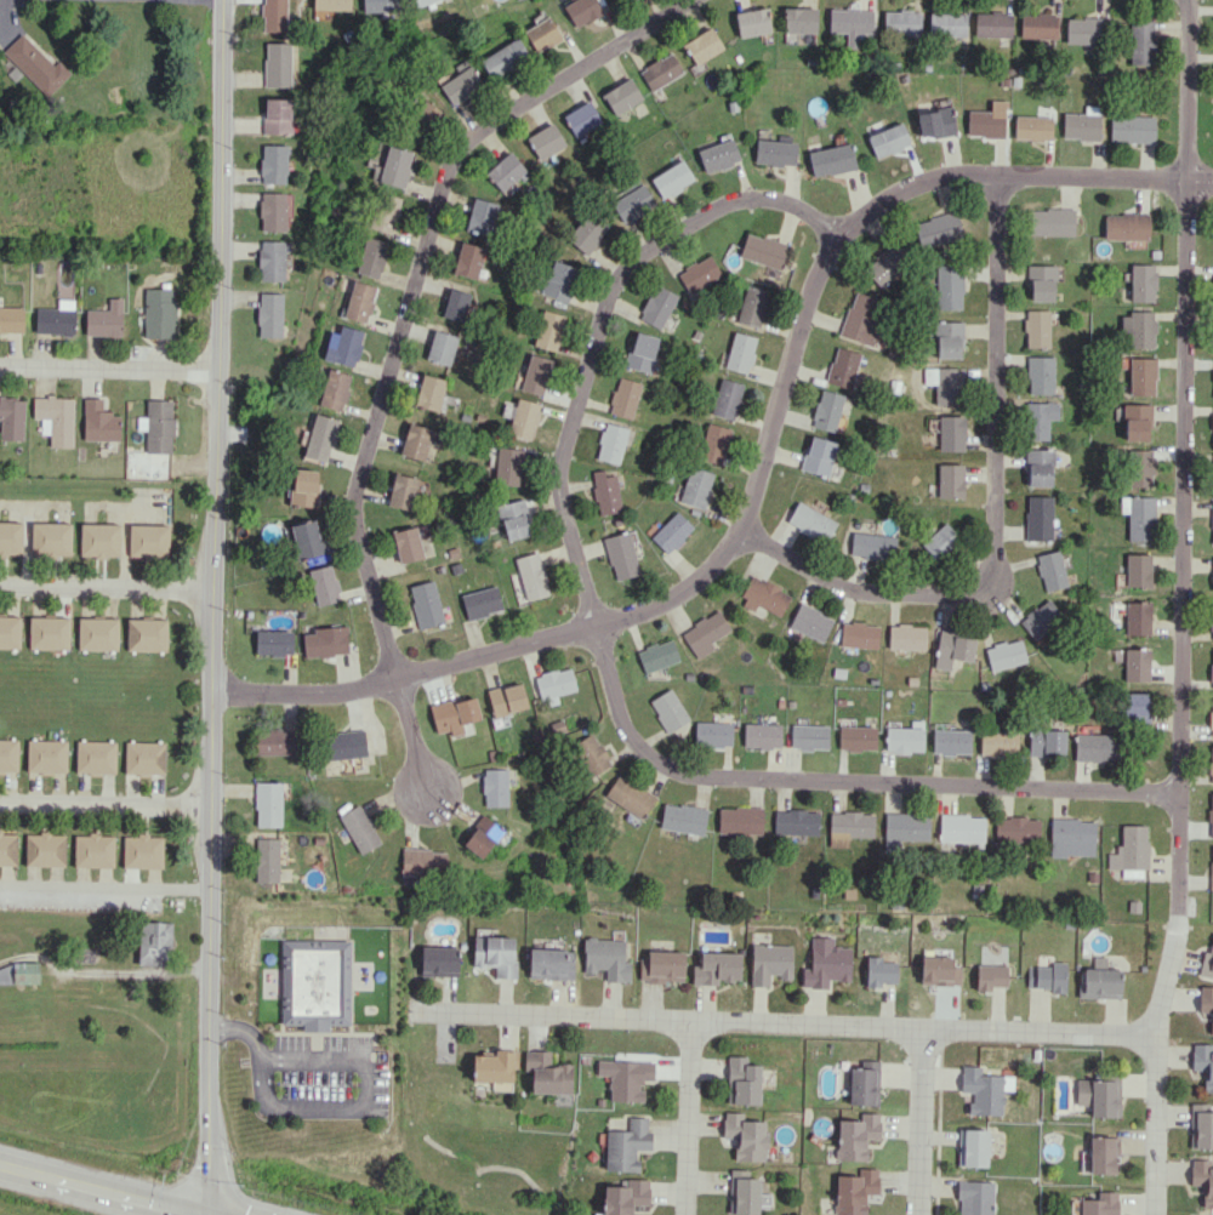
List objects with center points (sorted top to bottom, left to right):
building: (422, 1)
building: (330, 4)
building: (378, 6)
building: (581, 11)
building: (274, 16)
building: (799, 19)
building: (752, 22)
building: (850, 22)
building: (901, 22)
building: (947, 24)
building: (992, 24)
building: (1038, 25)
building: (1084, 30)
building: (541, 34)
building: (1141, 41)
building: (702, 45)
building: (502, 57)
building: (277, 63)
building: (35, 64)
building: (660, 70)
building: (460, 82)
building: (621, 96)
building: (277, 115)
building: (582, 119)
building: (986, 121)
building: (935, 122)
building: (1082, 124)
building: (1032, 127)
building: (1131, 129)
building: (888, 139)
building: (545, 141)
building: (775, 153)
building: (717, 155)
building: (831, 160)
building: (273, 164)
building: (393, 167)
building: (506, 172)
building: (671, 178)
building: (632, 202)
building: (272, 211)
building: (385, 212)
building: (480, 216)
building: (1052, 221)
building: (1126, 226)
building: (938, 229)
building: (586, 232)
building: (763, 250)
building: (371, 257)
building: (468, 259)
building: (270, 261)
building: (885, 264)
building: (699, 273)
road: (414, 279)
building: (559, 280)
building: (1041, 283)
building: (1141, 283)
building: (949, 286)
building: (359, 301)
building: (456, 304)
building: (657, 306)
building: (752, 306)
building: (159, 312)
building: (269, 314)
building: (56, 318)
building: (11, 319)
building: (104, 319)
building: (860, 320)
road: (596, 327)
building: (1036, 327)
building: (1138, 329)
building: (548, 330)
building: (947, 338)
building: (343, 346)
building: (442, 347)
building: (642, 352)
building: (740, 352)
building: (842, 367)
road: (107, 371)
building: (535, 373)
building: (1038, 373)
building: (1140, 376)
building: (945, 384)
building: (335, 389)
building: (429, 392)
building: (1212, 395)
building: (625, 398)
building: (727, 399)
building: (826, 410)
building: (11, 418)
building: (55, 418)
building: (520, 418)
building: (1038, 418)
building: (98, 421)
building: (1135, 421)
building: (1212, 422)
building: (158, 426)
building: (950, 433)
building: (320, 437)
building: (416, 441)
building: (611, 443)
building: (713, 443)
building: (816, 456)
road: (759, 460)
building: (508, 466)
building: (1038, 467)
building: (1138, 467)
building: (1212, 473)
building: (949, 480)
building: (695, 486)
building: (304, 487)
building: (404, 491)
building: (605, 492)
road: (989, 510)
building: (1037, 517)
building: (1138, 517)
building: (512, 518)
building: (1212, 520)
building: (810, 521)
building: (671, 532)
building: (10, 537)
building: (51, 538)
building: (99, 538)
building: (306, 538)
building: (148, 540)
building: (940, 541)
building: (408, 544)
building: (871, 546)
building: (621, 555)
building: (1050, 570)
building: (1137, 570)
building: (531, 576)
building: (324, 584)
road: (106, 592)
building: (763, 595)
building: (482, 601)
building: (426, 604)
road: (211, 606)
road: (1179, 609)
building: (1137, 617)
building: (1040, 618)
building: (810, 622)
building: (1212, 622)
building: (10, 632)
building: (49, 632)
building: (706, 632)
building: (97, 633)
building: (146, 634)
building: (859, 634)
building: (906, 637)
building: (325, 641)
building: (273, 643)
building: (952, 649)
building: (1004, 654)
building: (657, 655)
building: (1135, 664)
building: (1211, 669)
building: (556, 684)
building: (507, 698)
building: (1134, 707)
building: (668, 709)
building: (454, 714)
building: (1211, 717)
building: (713, 734)
road: (408, 735)
building: (762, 735)
building: (809, 736)
building: (856, 737)
building: (905, 737)
building: (275, 741)
building: (950, 741)
building: (1046, 742)
building: (997, 743)
building: (344, 745)
building: (1097, 747)
building: (8, 754)
building: (590, 754)
building: (46, 755)
building: (95, 757)
building: (144, 757)
building: (1211, 764)
road: (837, 780)
building: (495, 787)
building: (630, 795)
building: (268, 804)
road: (106, 806)
building: (1211, 815)
building: (683, 818)
building: (740, 820)
building: (796, 822)
building: (852, 823)
building: (359, 828)
building: (904, 828)
building: (961, 828)
building: (1016, 829)
building: (482, 837)
building: (1071, 837)
building: (7, 849)
building: (44, 849)
building: (93, 850)
building: (142, 851)
building: (1129, 851)
building: (266, 860)
building: (423, 862)
building: (1211, 866)
road: (106, 886)
building: (154, 943)
building: (495, 954)
building: (605, 958)
building: (438, 960)
building: (1206, 960)
building: (549, 963)
building: (770, 963)
building: (826, 963)
building: (662, 965)
building: (717, 968)
building: (939, 970)
building: (881, 971)
building: (18, 974)
building: (990, 976)
building: (1048, 976)
building: (314, 982)
building: (1099, 983)
building: (1206, 1002)
road: (786, 1025)
building: (1203, 1063)
building: (491, 1066)
building: (546, 1073)
building: (626, 1078)
building: (742, 1080)
building: (985, 1089)
building: (1099, 1096)
road: (336, 1107)
road: (688, 1118)
road: (918, 1123)
building: (1201, 1126)
building: (746, 1136)
building: (856, 1136)
building: (627, 1145)
building: (973, 1147)
building: (1103, 1154)
building: (1202, 1179)
road: (89, 1191)
building: (855, 1191)
building: (742, 1193)
building: (625, 1197)
building: (975, 1197)
building: (1100, 1204)

